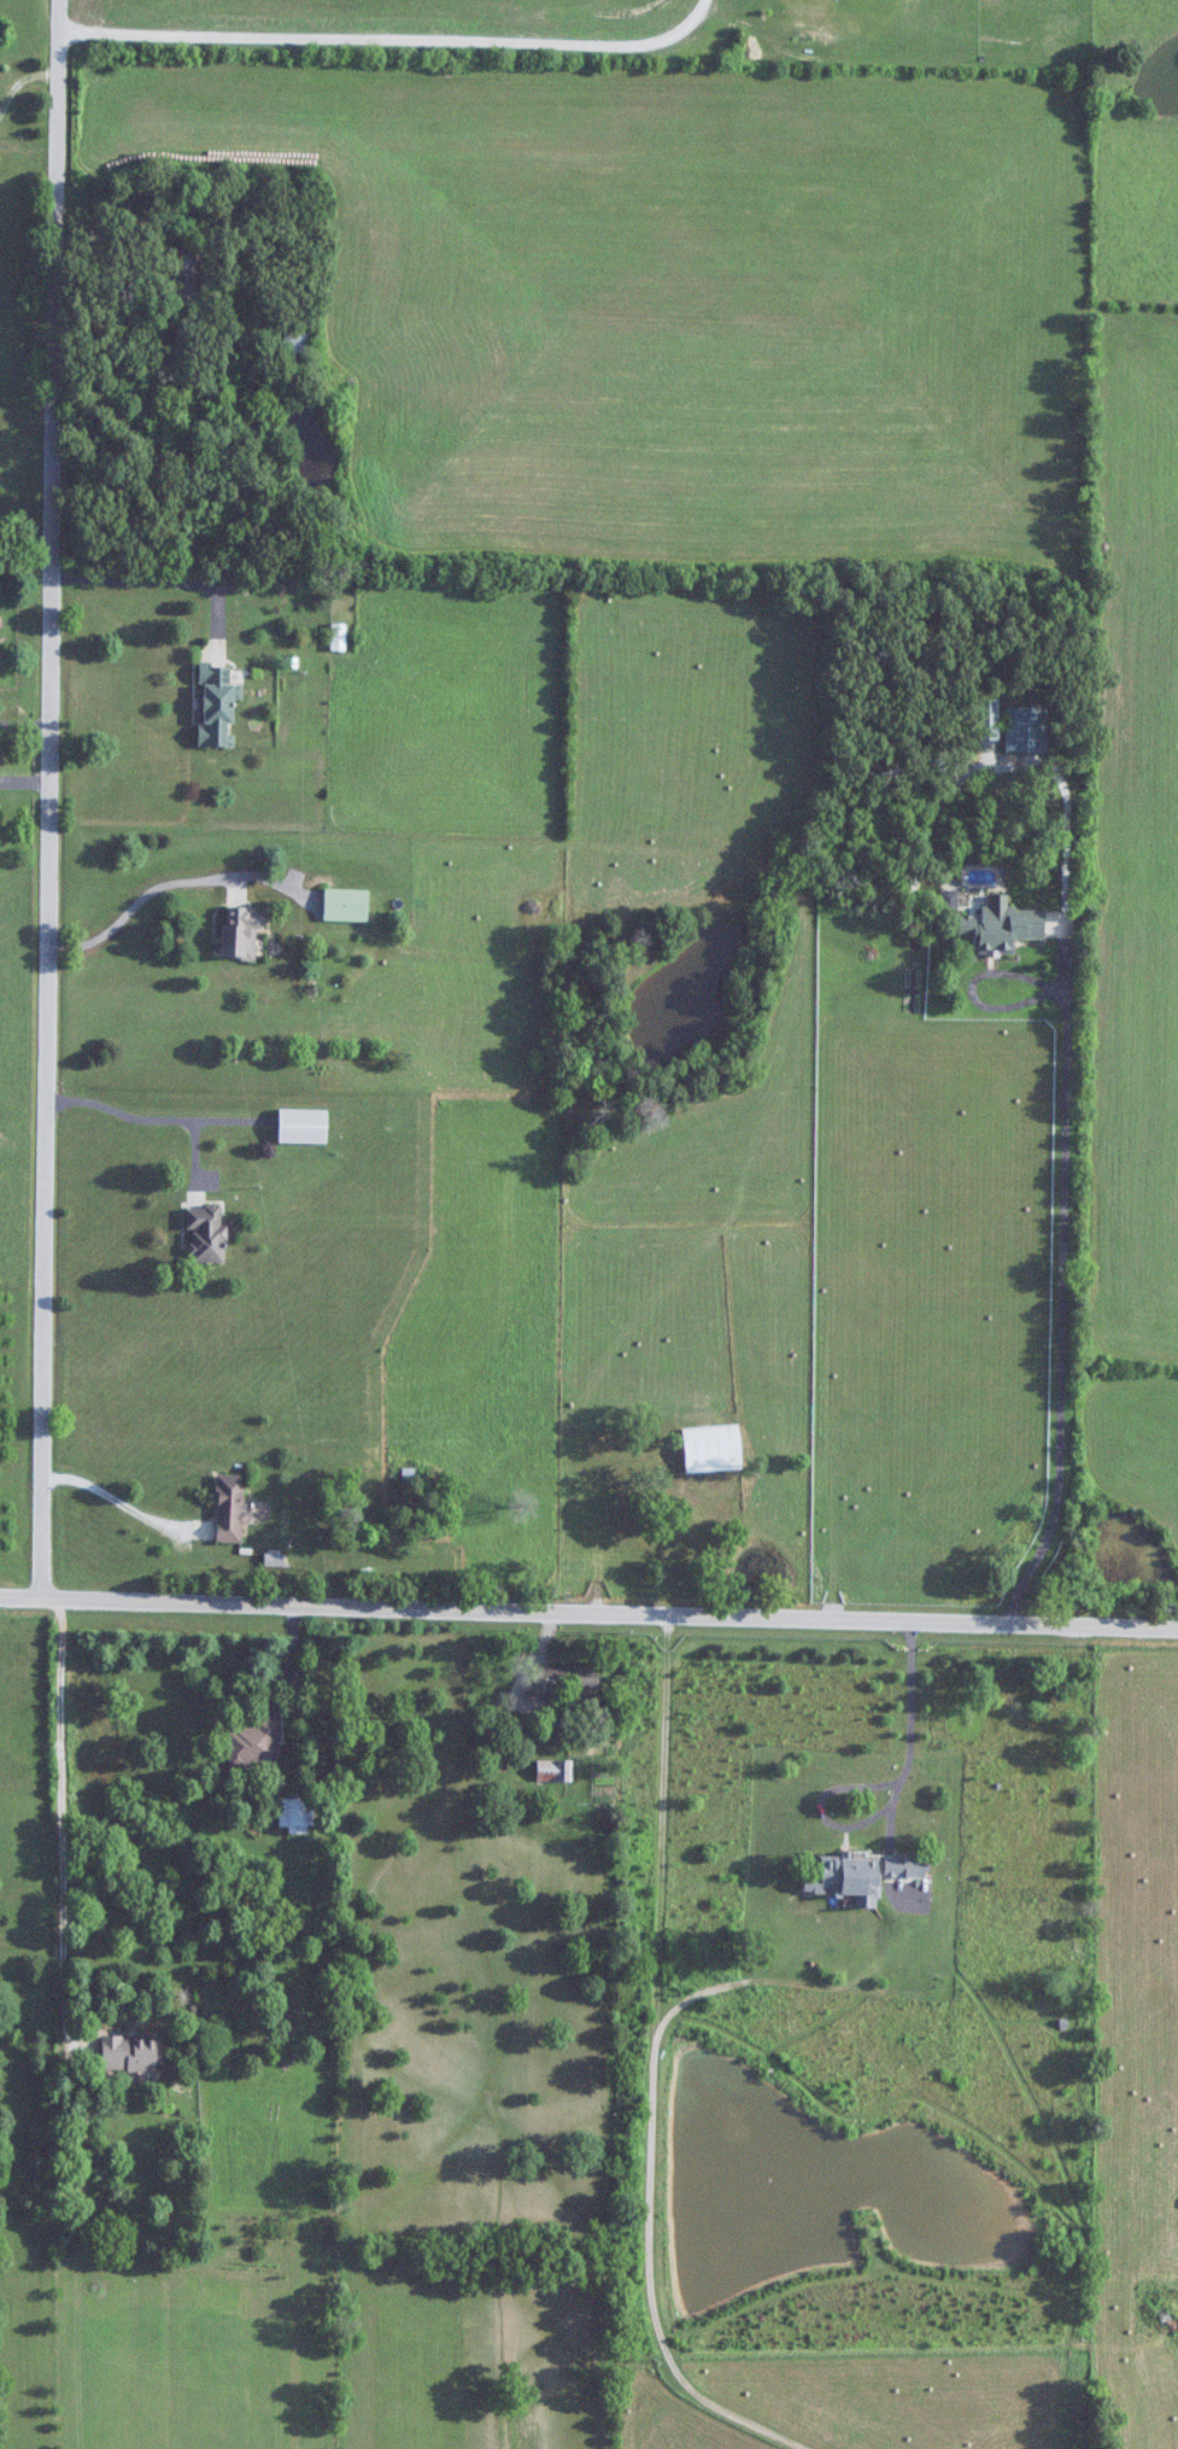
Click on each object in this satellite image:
road: (386, 37)
road: (18, 80)
building: (183, 274)
building: (294, 340)
road: (24, 540)
road: (157, 581)
building: (338, 636)
building: (216, 703)
road: (23, 721)
building: (989, 726)
building: (1025, 729)
road: (46, 803)
road: (142, 895)
building: (346, 904)
building: (1001, 924)
building: (235, 931)
road: (146, 1116)
building: (303, 1127)
road: (1061, 1215)
building: (206, 1234)
building: (713, 1448)
road: (119, 1502)
building: (229, 1508)
road: (588, 1623)
building: (567, 1681)
road: (910, 1726)
building: (254, 1743)
building: (555, 1770)
building: (295, 1812)
road: (60, 1825)
building: (863, 1871)
building: (130, 2053)

